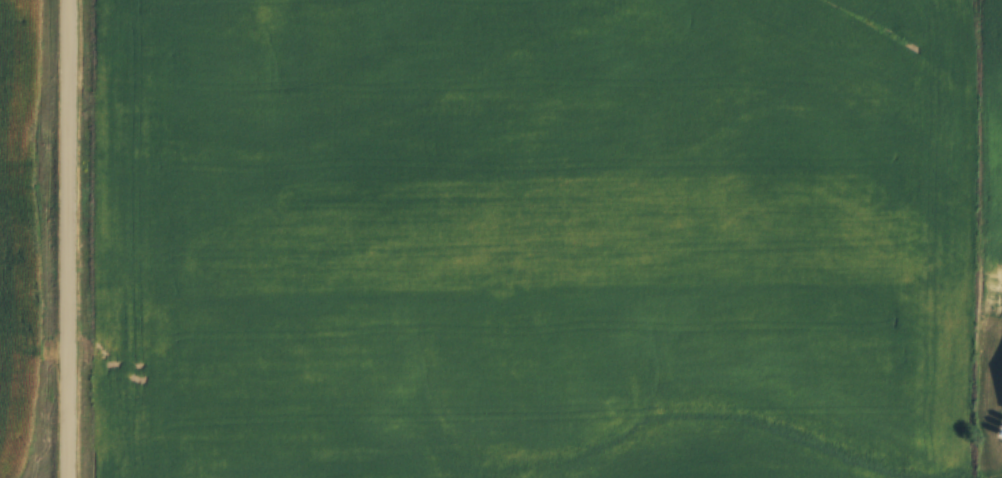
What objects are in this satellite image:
road: (67, 239)

